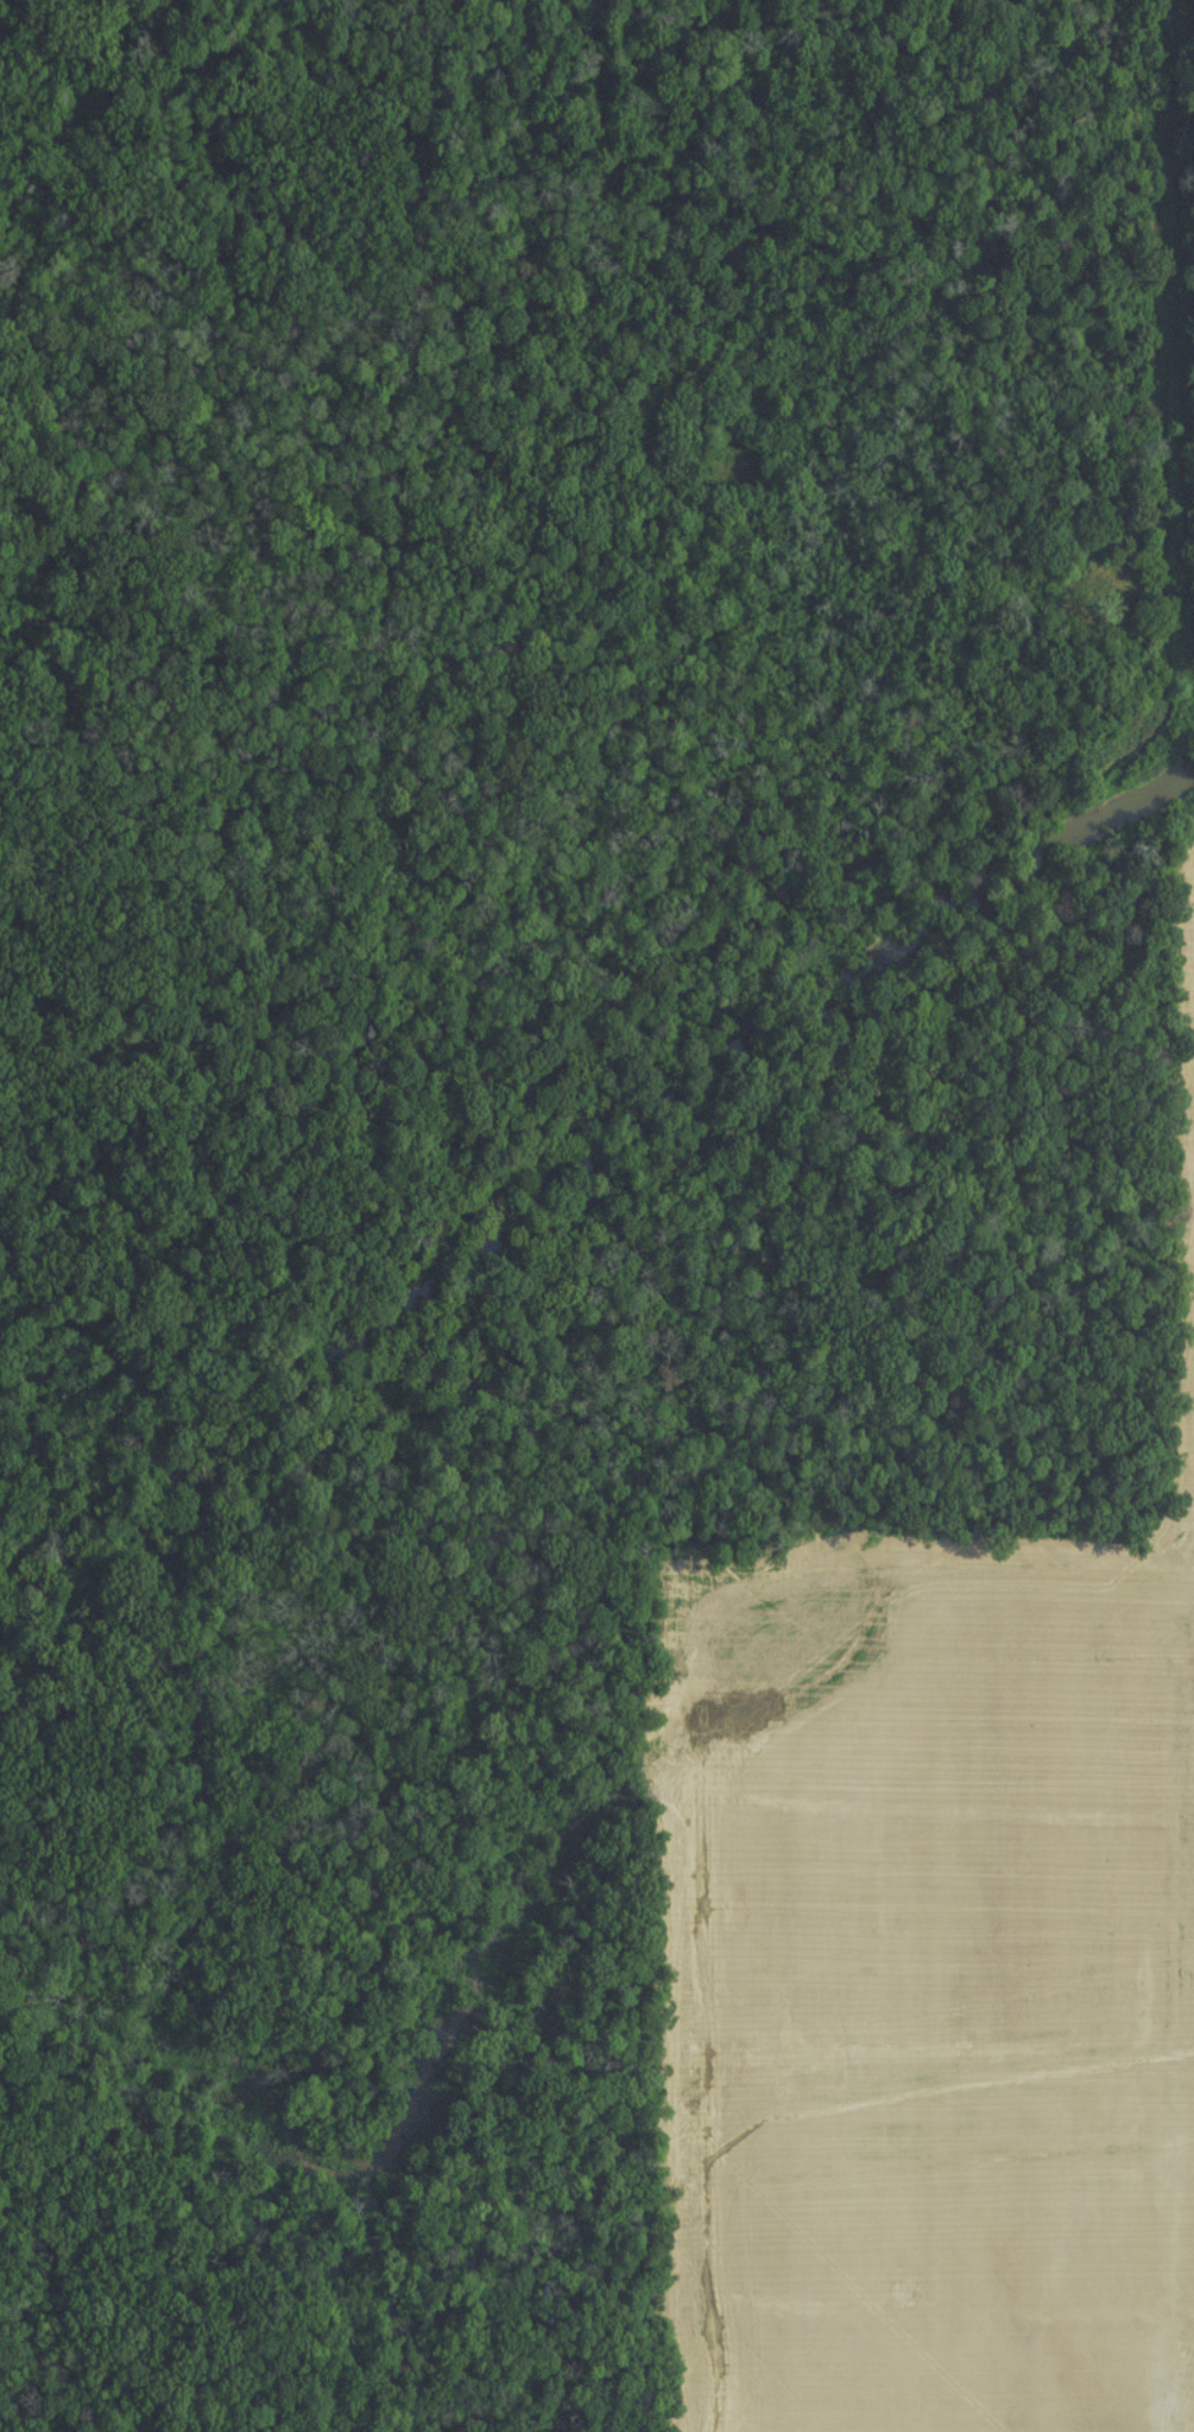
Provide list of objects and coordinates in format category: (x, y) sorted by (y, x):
road: (1180, 382)

